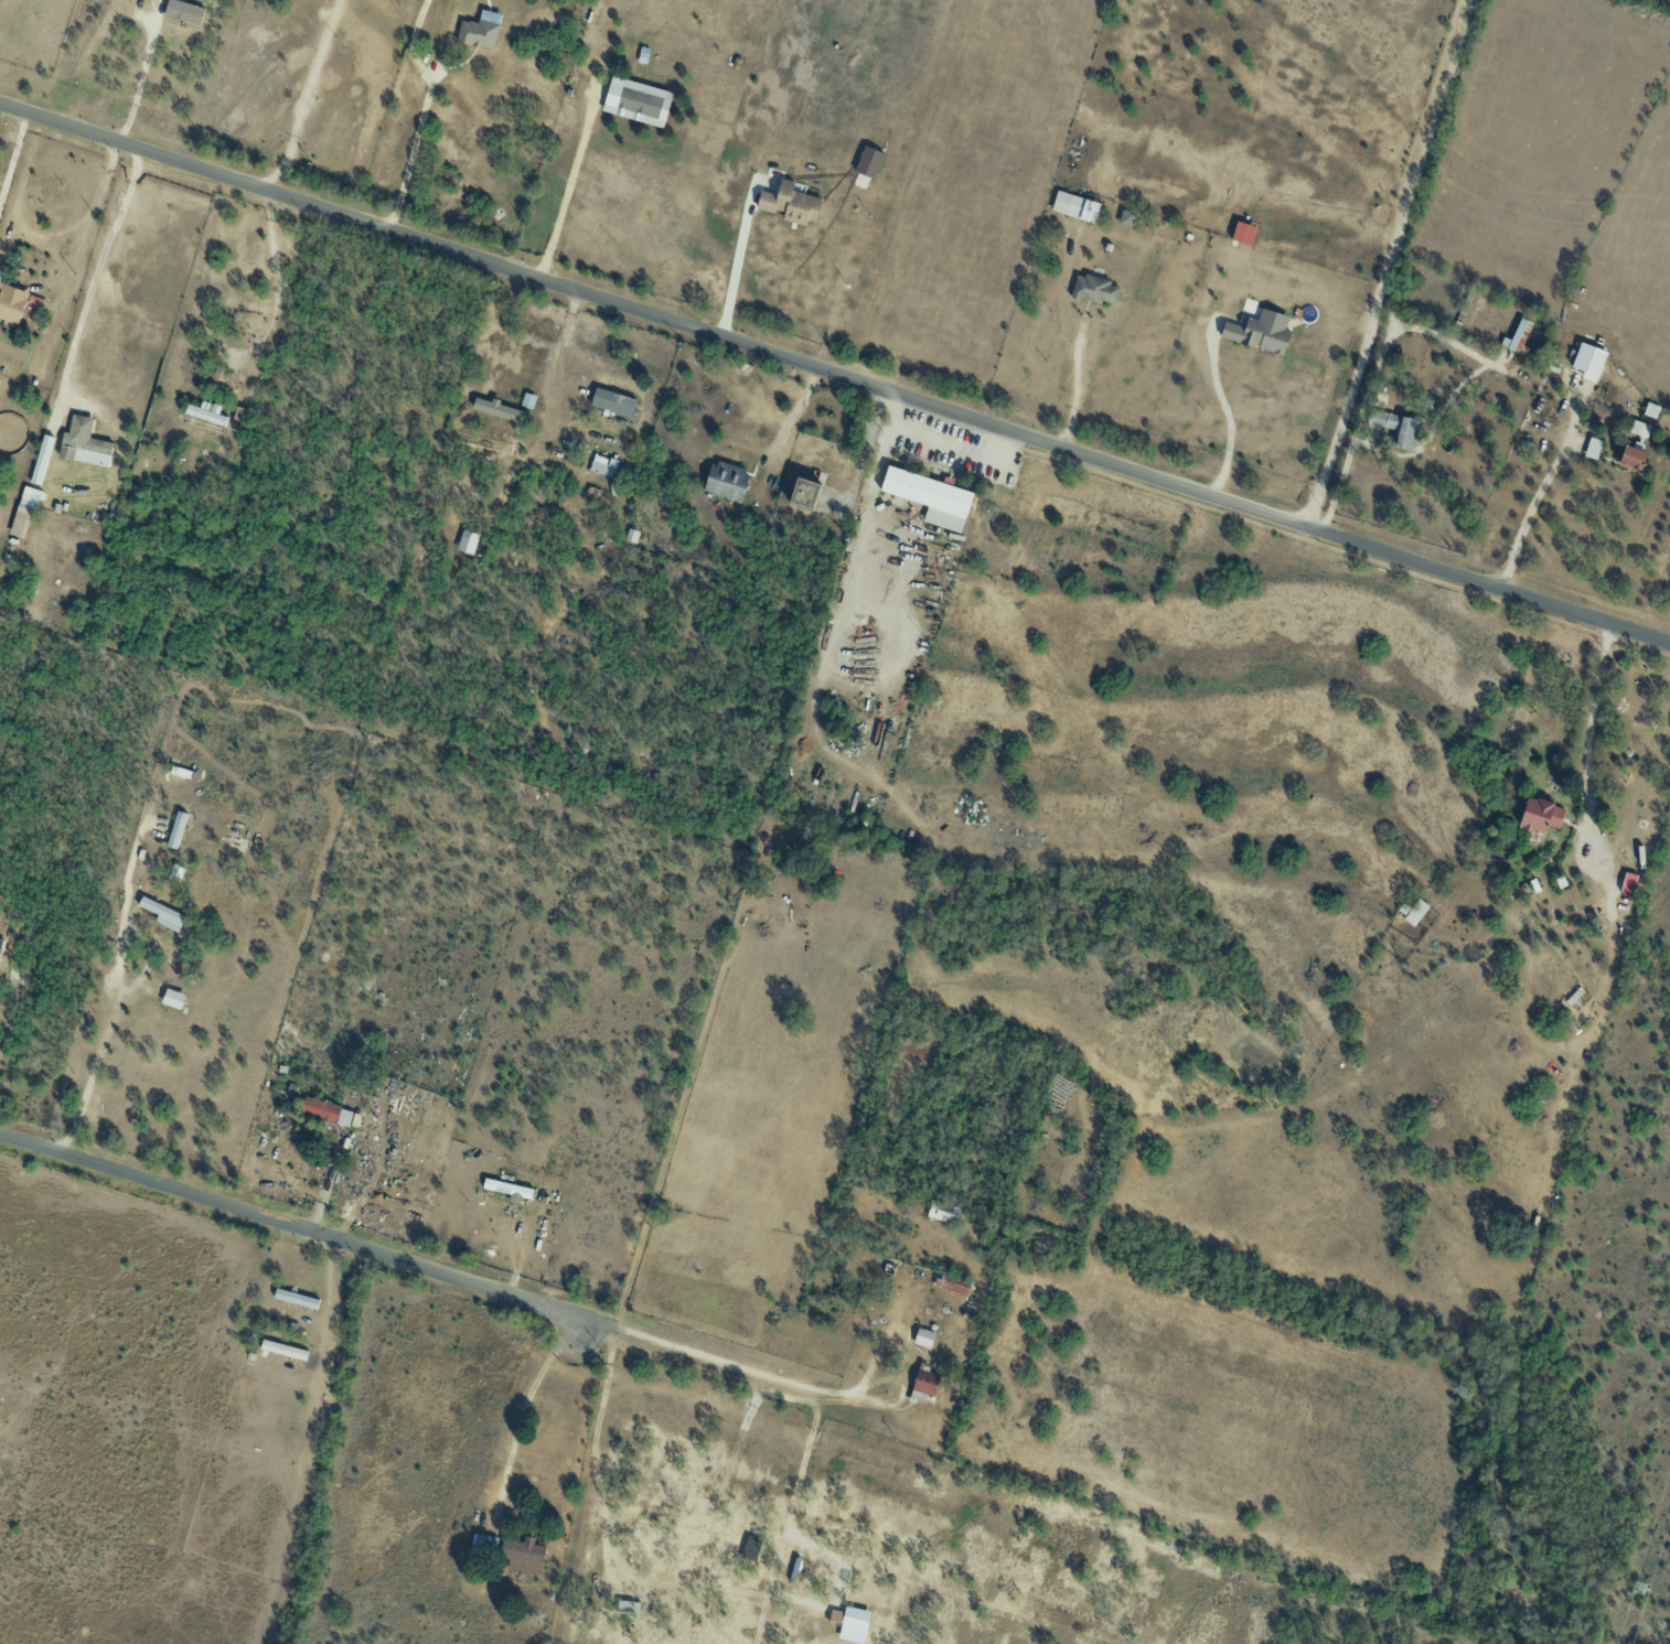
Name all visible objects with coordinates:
building: (183, 12)
building: (478, 34)
road: (303, 99)
building: (636, 101)
road: (417, 149)
road: (12, 158)
building: (868, 161)
road: (567, 195)
building: (790, 203)
building: (1074, 206)
road: (95, 214)
building: (1126, 217)
building: (1243, 233)
road: (1387, 257)
road: (736, 269)
building: (0, 272)
road: (95, 272)
road: (277, 287)
building: (1094, 289)
building: (33, 302)
building: (11, 304)
road: (1426, 319)
building: (1259, 331)
building: (1518, 339)
building: (1587, 361)
road: (835, 376)
road: (1078, 389)
building: (612, 402)
building: (495, 409)
building: (1650, 410)
road: (1225, 411)
building: (205, 412)
road: (794, 415)
building: (1396, 427)
building: (1639, 429)
building: (84, 444)
building: (1592, 448)
building: (1630, 458)
building: (600, 466)
building: (726, 481)
building: (803, 493)
building: (930, 497)
road: (1533, 502)
building: (24, 511)
road: (866, 522)
building: (631, 535)
building: (468, 542)
road: (1585, 746)
building: (1539, 816)
building: (1628, 883)
building: (1415, 912)
building: (162, 914)
building: (172, 999)
road: (117, 1009)
building: (188, 1110)
building: (325, 1111)
road: (325, 1182)
building: (509, 1190)
building: (943, 1211)
road: (289, 1225)
building: (953, 1283)
building: (296, 1299)
building: (922, 1337)
building: (283, 1350)
road: (775, 1379)
building: (923, 1385)
road: (528, 1405)
building: (511, 1552)
power tower: (1639, 1589)

